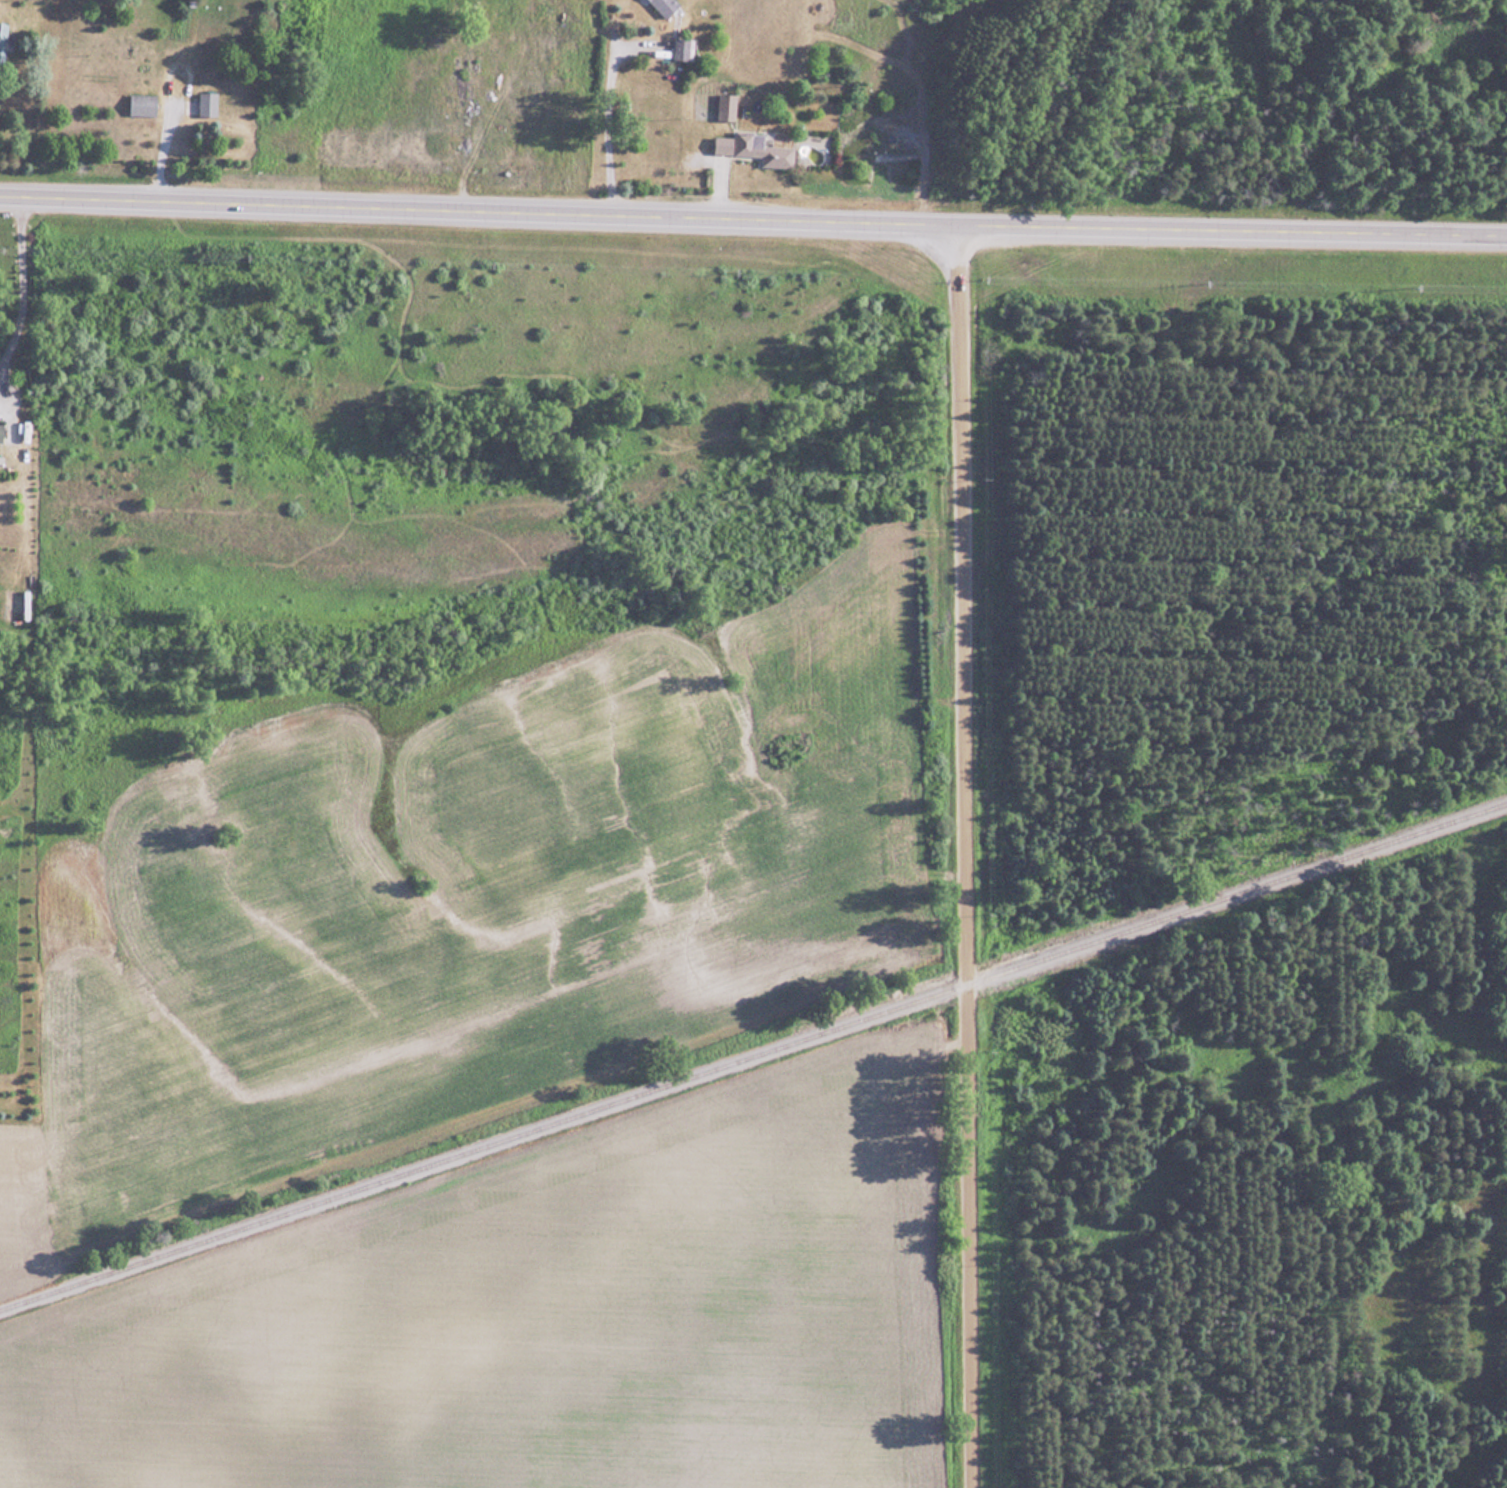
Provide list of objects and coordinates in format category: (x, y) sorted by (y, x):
building: (666, 5)
building: (3, 40)
building: (685, 49)
building: (207, 103)
building: (144, 104)
building: (729, 105)
road: (600, 134)
building: (755, 148)
road: (753, 224)
road: (19, 288)
building: (2, 427)
road: (966, 858)
railway: (752, 1056)

